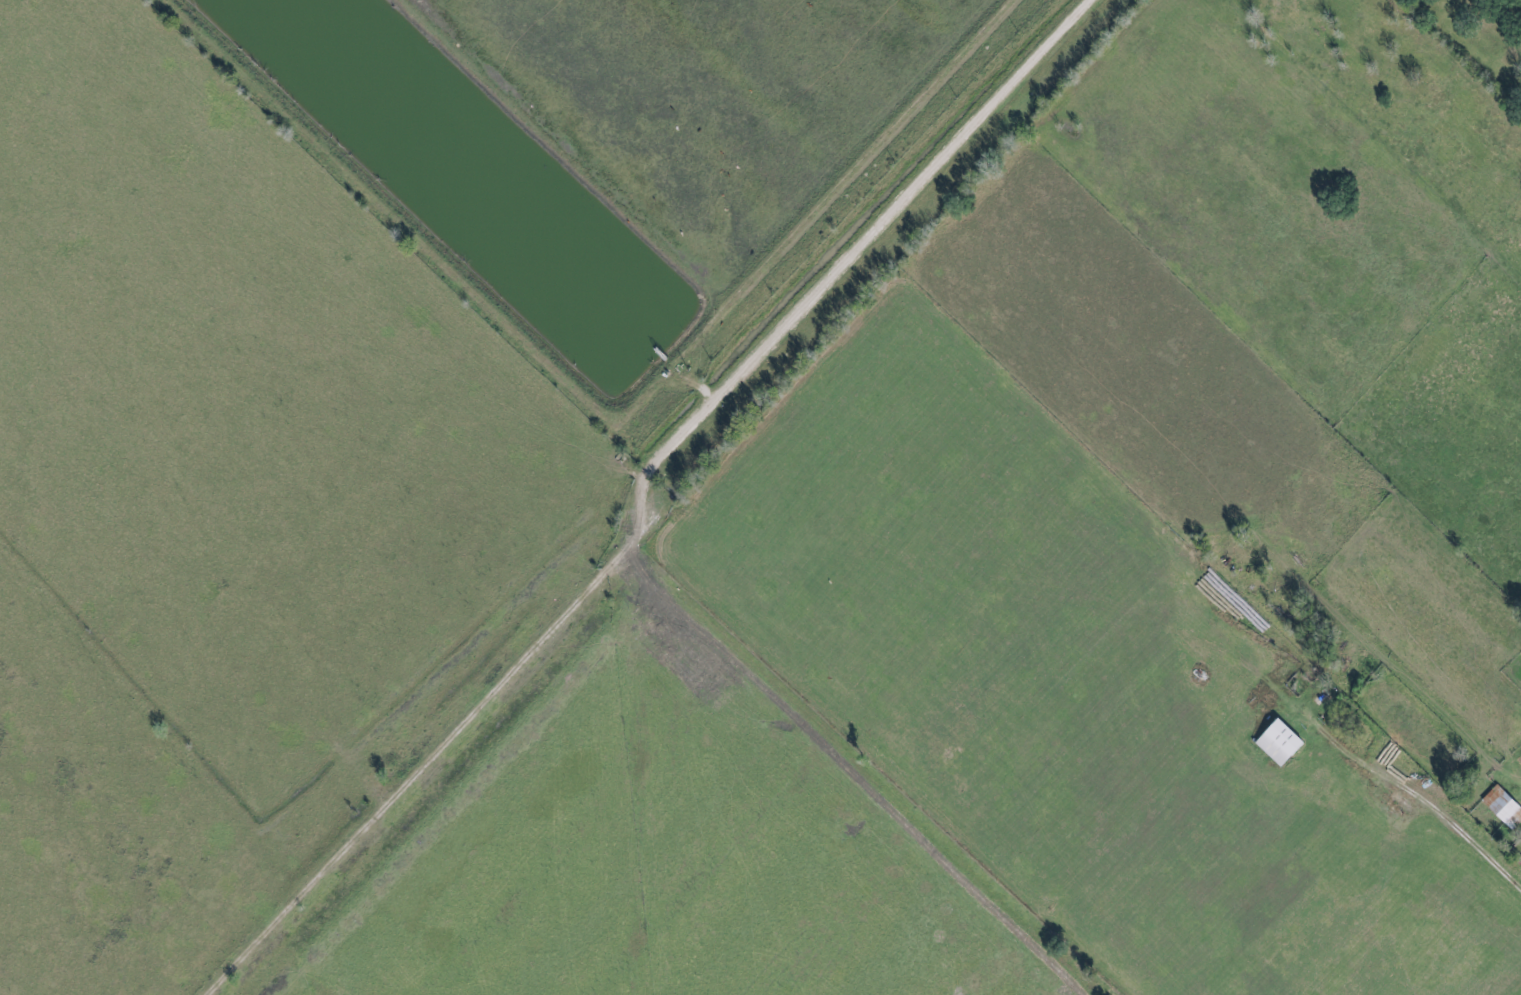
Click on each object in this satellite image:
road: (652, 494)
building: (1278, 741)
building: (1503, 806)

